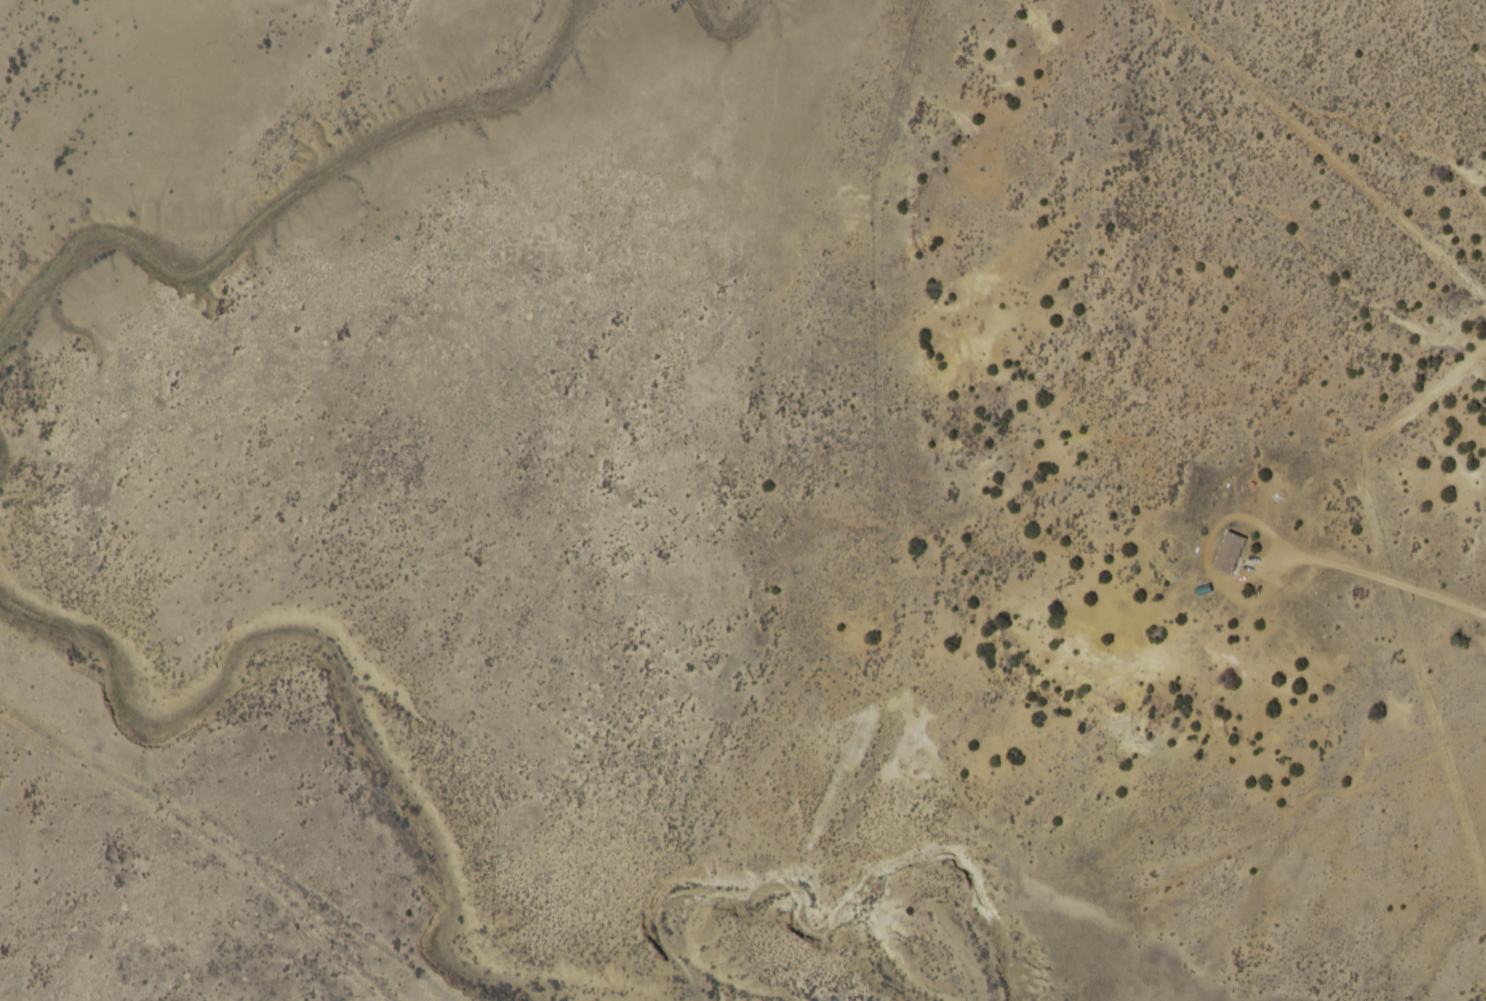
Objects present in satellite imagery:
building: (1230, 553)
road: (206, 844)

